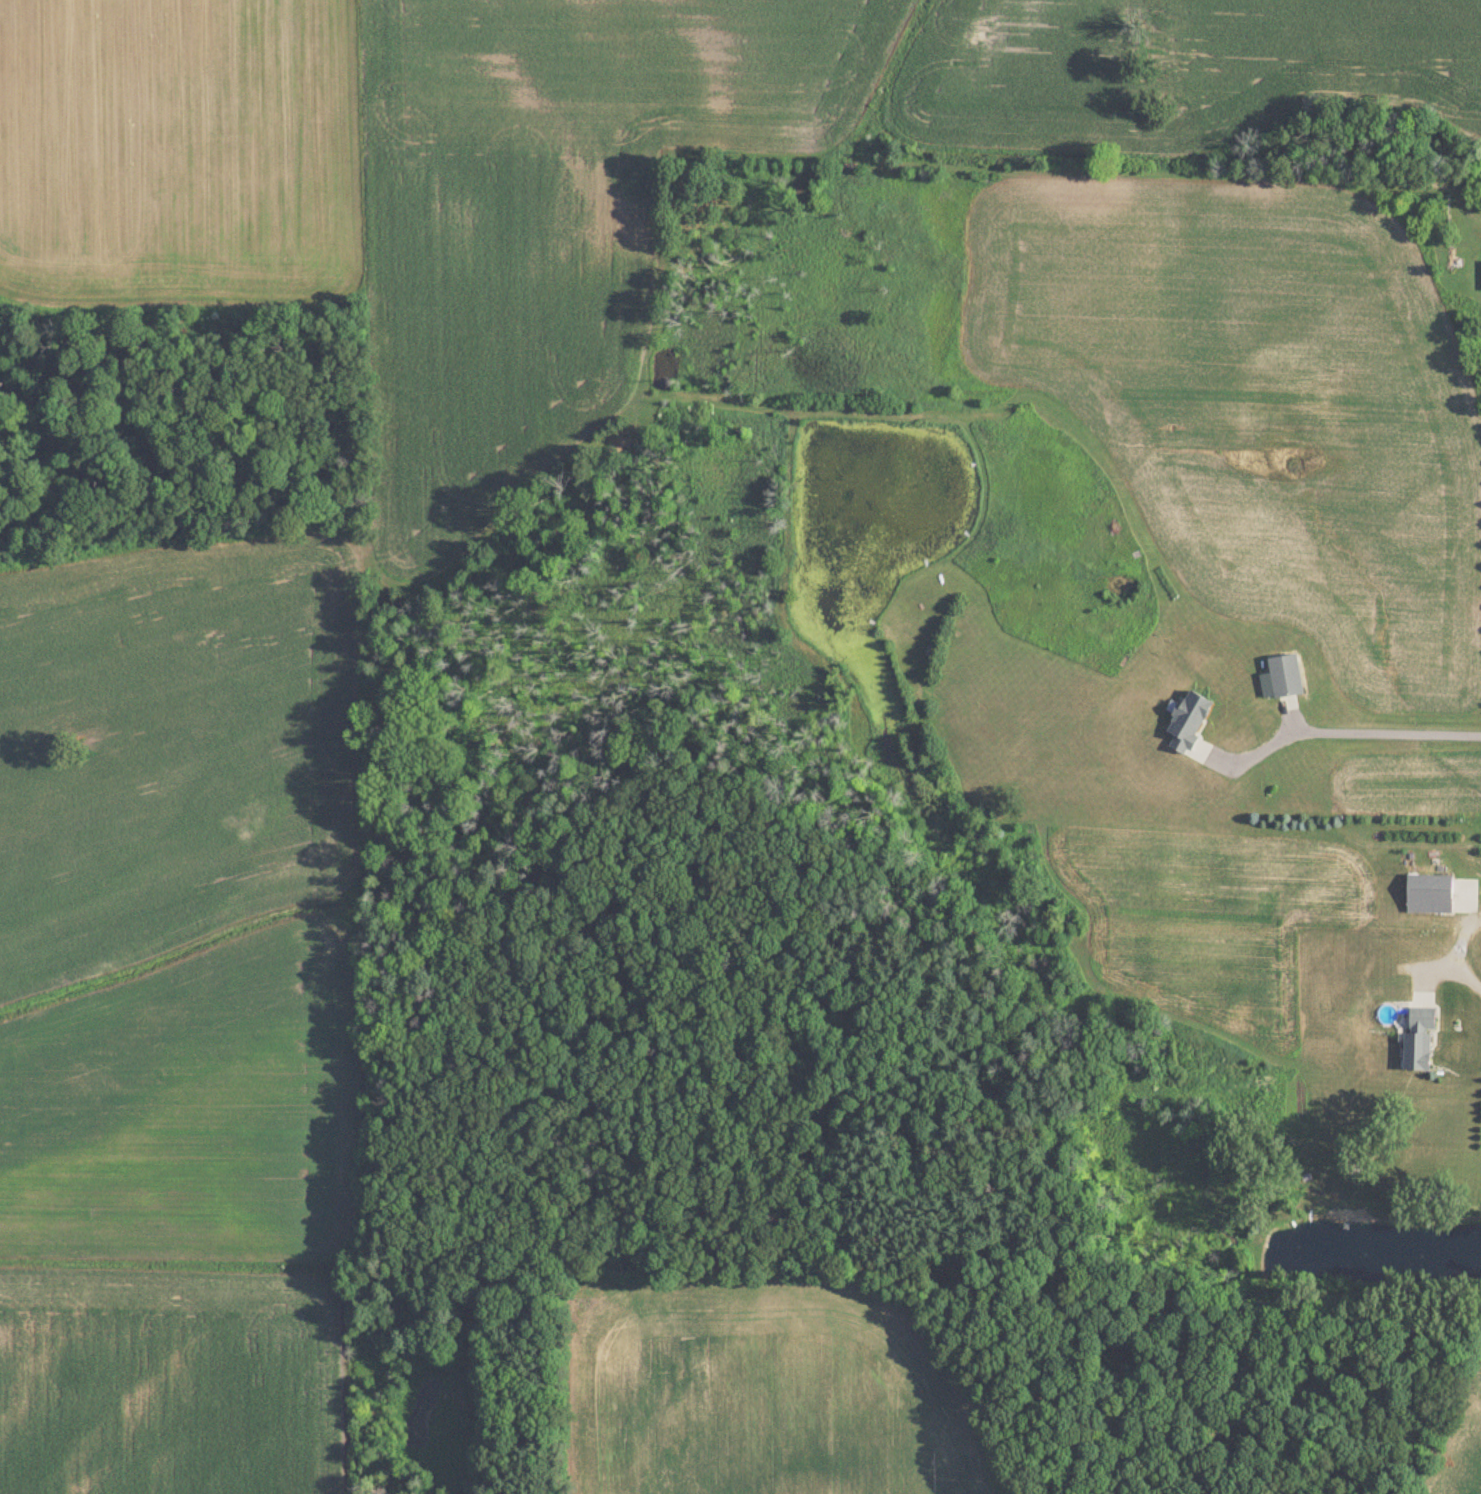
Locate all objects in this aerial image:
building: (1289, 680)
building: (1191, 719)
road: (1341, 728)
building: (1432, 893)
road: (1459, 955)
building: (1419, 995)
building: (1422, 1038)

